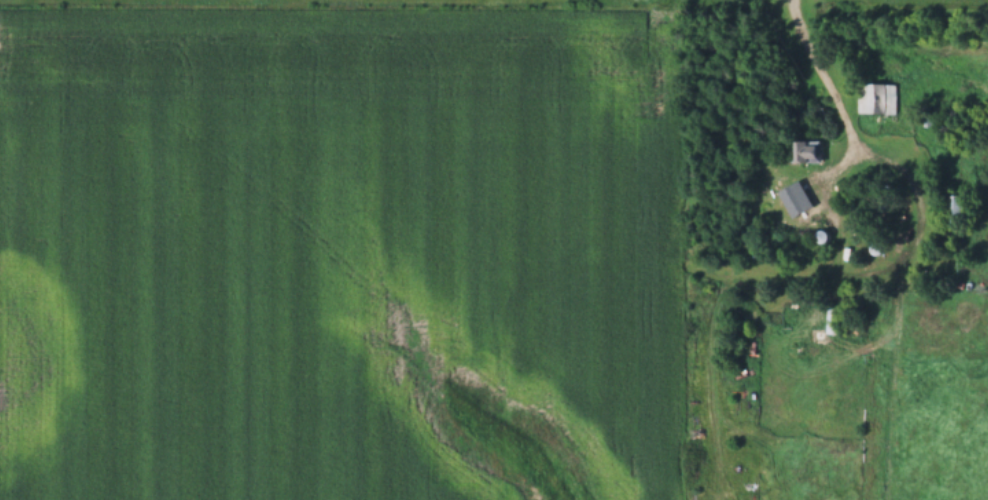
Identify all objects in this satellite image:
building: (876, 99)
building: (806, 151)
building: (948, 209)
building: (832, 320)

